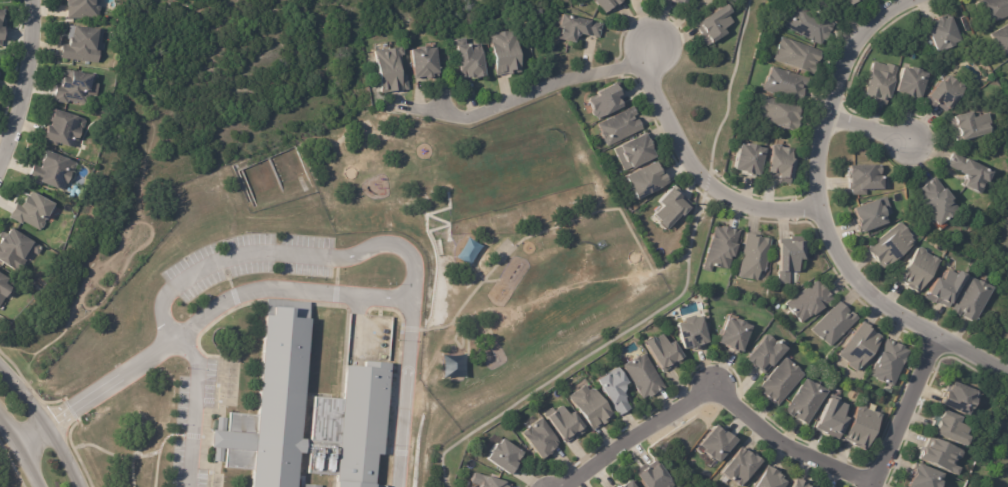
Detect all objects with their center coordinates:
building: (644, 0)
building: (679, 1)
building: (847, 1)
building: (855, 1)
building: (609, 4)
building: (83, 9)
building: (994, 10)
road: (673, 24)
building: (717, 25)
building: (810, 25)
building: (1, 27)
building: (576, 28)
building: (944, 34)
building: (1001, 40)
building: (83, 44)
building: (507, 52)
building: (798, 56)
building: (472, 60)
building: (427, 62)
building: (392, 67)
road: (24, 82)
building: (912, 83)
building: (785, 84)
building: (883, 84)
building: (75, 87)
building: (946, 94)
road: (517, 98)
building: (605, 101)
building: (781, 114)
road: (870, 126)
building: (63, 127)
building: (621, 127)
building: (970, 127)
building: (637, 153)
building: (748, 160)
building: (782, 164)
road: (696, 169)
building: (52, 170)
building: (973, 173)
building: (868, 179)
building: (648, 181)
building: (940, 202)
building: (671, 207)
building: (33, 212)
road: (821, 216)
building: (870, 216)
building: (892, 245)
building: (723, 246)
building: (16, 250)
building: (755, 254)
road: (282, 258)
building: (789, 259)
building: (919, 270)
building: (4, 288)
building: (945, 289)
road: (279, 292)
building: (809, 300)
building: (974, 300)
building: (835, 323)
building: (692, 332)
building: (735, 333)
building: (860, 346)
building: (663, 350)
building: (765, 354)
building: (890, 362)
building: (324, 365)
building: (644, 375)
building: (781, 380)
building: (615, 390)
building: (963, 396)
road: (718, 397)
building: (808, 399)
building: (591, 406)
road: (190, 408)
road: (906, 408)
building: (304, 416)
building: (834, 418)
building: (565, 422)
building: (952, 424)
road: (44, 425)
building: (863, 426)
building: (535, 437)
building: (720, 442)
building: (940, 454)
building: (505, 456)
road: (15, 460)
park: (447, 467)
building: (741, 467)
building: (652, 476)
building: (928, 476)
building: (771, 478)
building: (486, 481)
building: (800, 483)
building: (628, 484)
building: (312, 485)
road: (874, 485)

